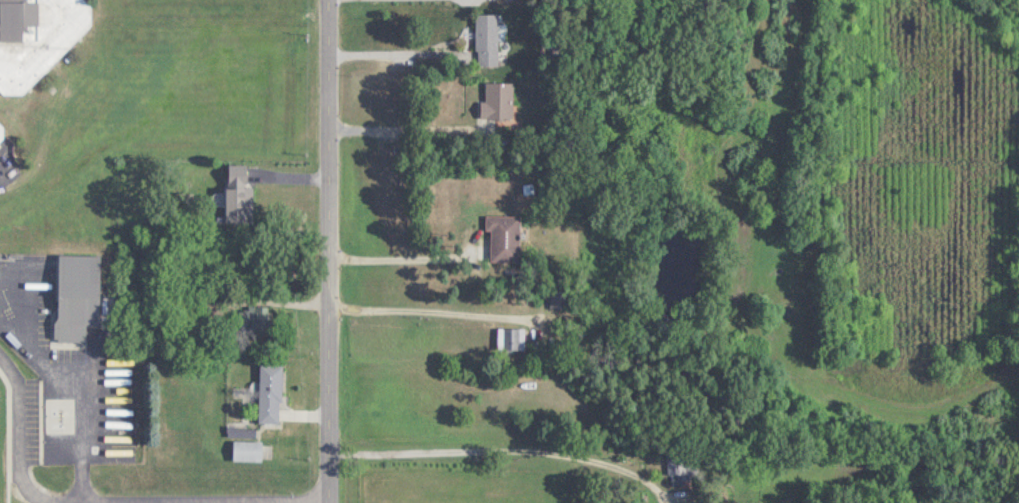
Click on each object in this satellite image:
road: (409, 9)
building: (36, 37)
building: (487, 39)
road: (388, 69)
building: (498, 100)
building: (1, 132)
road: (400, 143)
road: (6, 166)
building: (238, 195)
building: (504, 237)
road: (330, 251)
road: (405, 275)
building: (77, 295)
building: (559, 299)
road: (427, 329)
building: (511, 337)
building: (270, 393)
parking lot: (33, 421)
road: (84, 434)
building: (247, 450)
building: (683, 464)
road: (491, 470)
road: (104, 500)
road: (204, 502)

